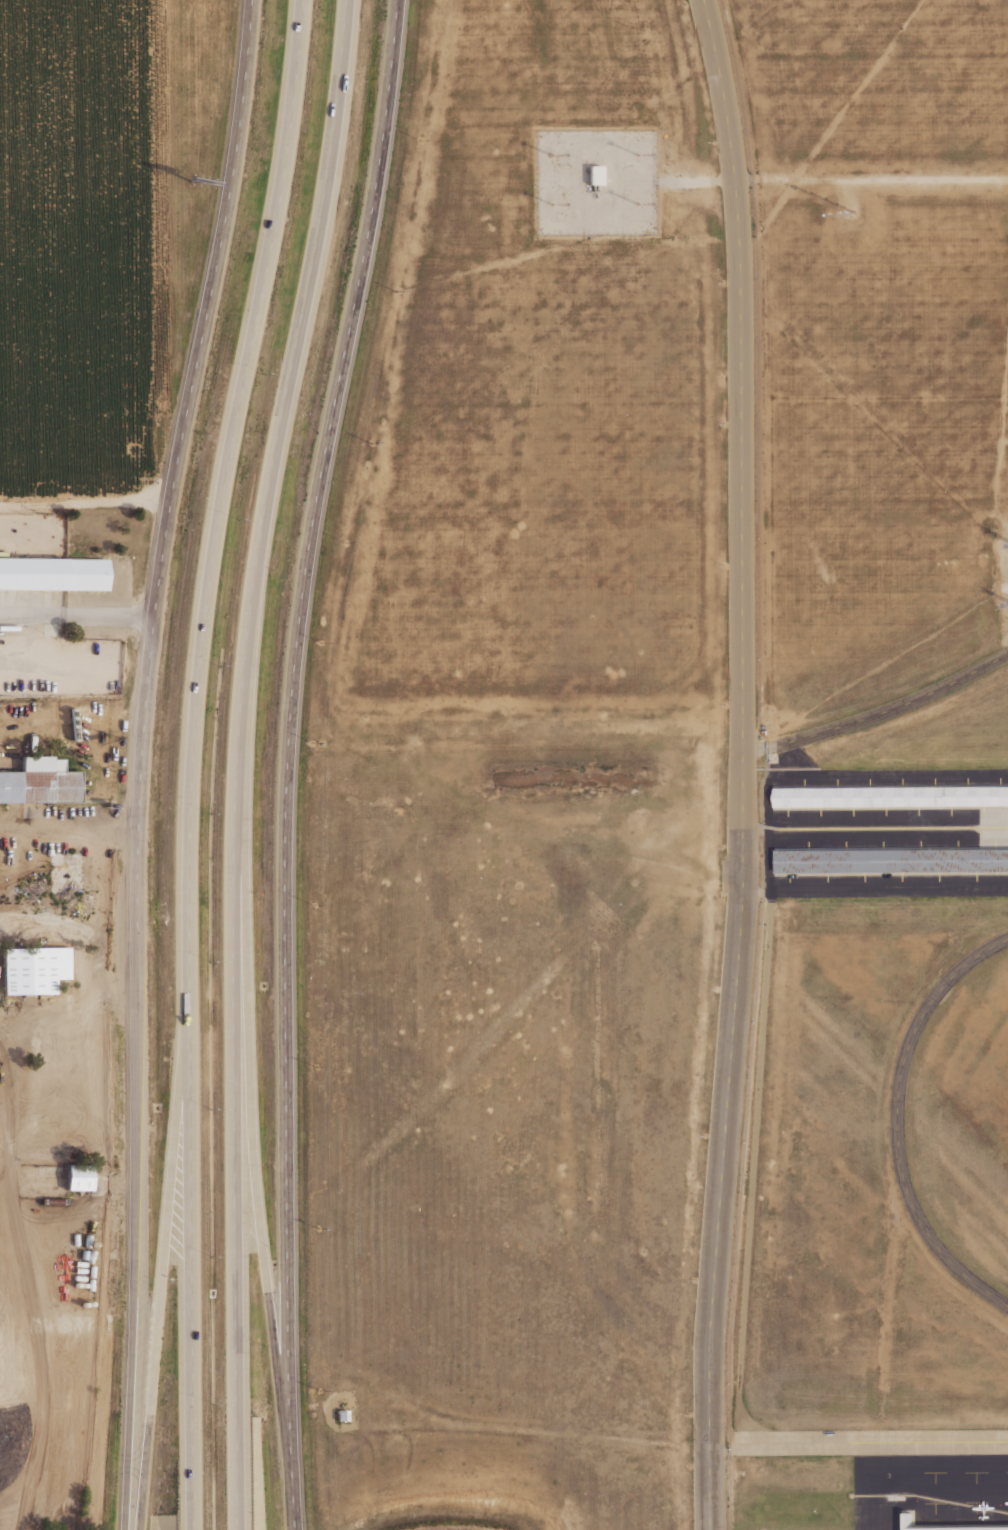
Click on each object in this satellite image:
building: (595, 174)
road: (742, 179)
road: (694, 180)
road: (879, 181)
road: (161, 250)
road: (84, 503)
building: (54, 573)
road: (77, 616)
road: (890, 710)
road: (753, 748)
road: (142, 760)
road: (193, 760)
road: (239, 760)
road: (289, 760)
road: (741, 764)
airport: (878, 770)
building: (38, 781)
building: (891, 797)
road: (751, 827)
airport apron: (885, 833)
building: (892, 860)
building: (65, 873)
road: (752, 892)
building: (35, 967)
road: (67, 1009)
road: (900, 1126)
building: (75, 1176)
building: (81, 1193)
building: (50, 1201)
road: (262, 1235)
road: (165, 1245)
building: (341, 1415)
road: (534, 1427)
airport taxiway: (870, 1440)
road: (718, 1449)
building: (908, 1520)

